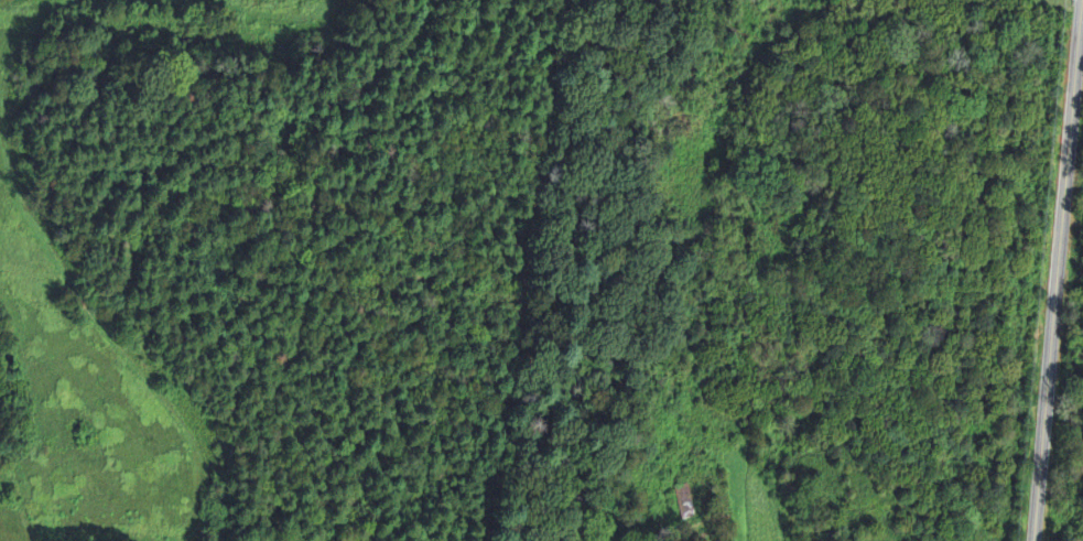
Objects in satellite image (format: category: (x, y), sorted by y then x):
road: (1076, 57)
road: (1051, 327)
building: (663, 431)
building: (683, 495)

